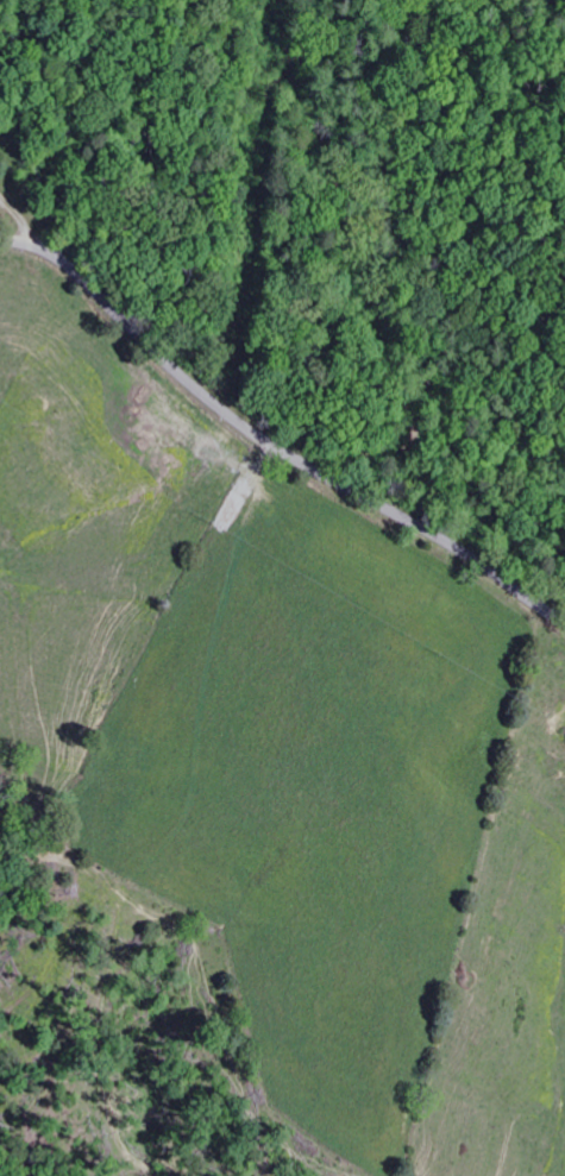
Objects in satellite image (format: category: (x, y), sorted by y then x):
road: (271, 445)

